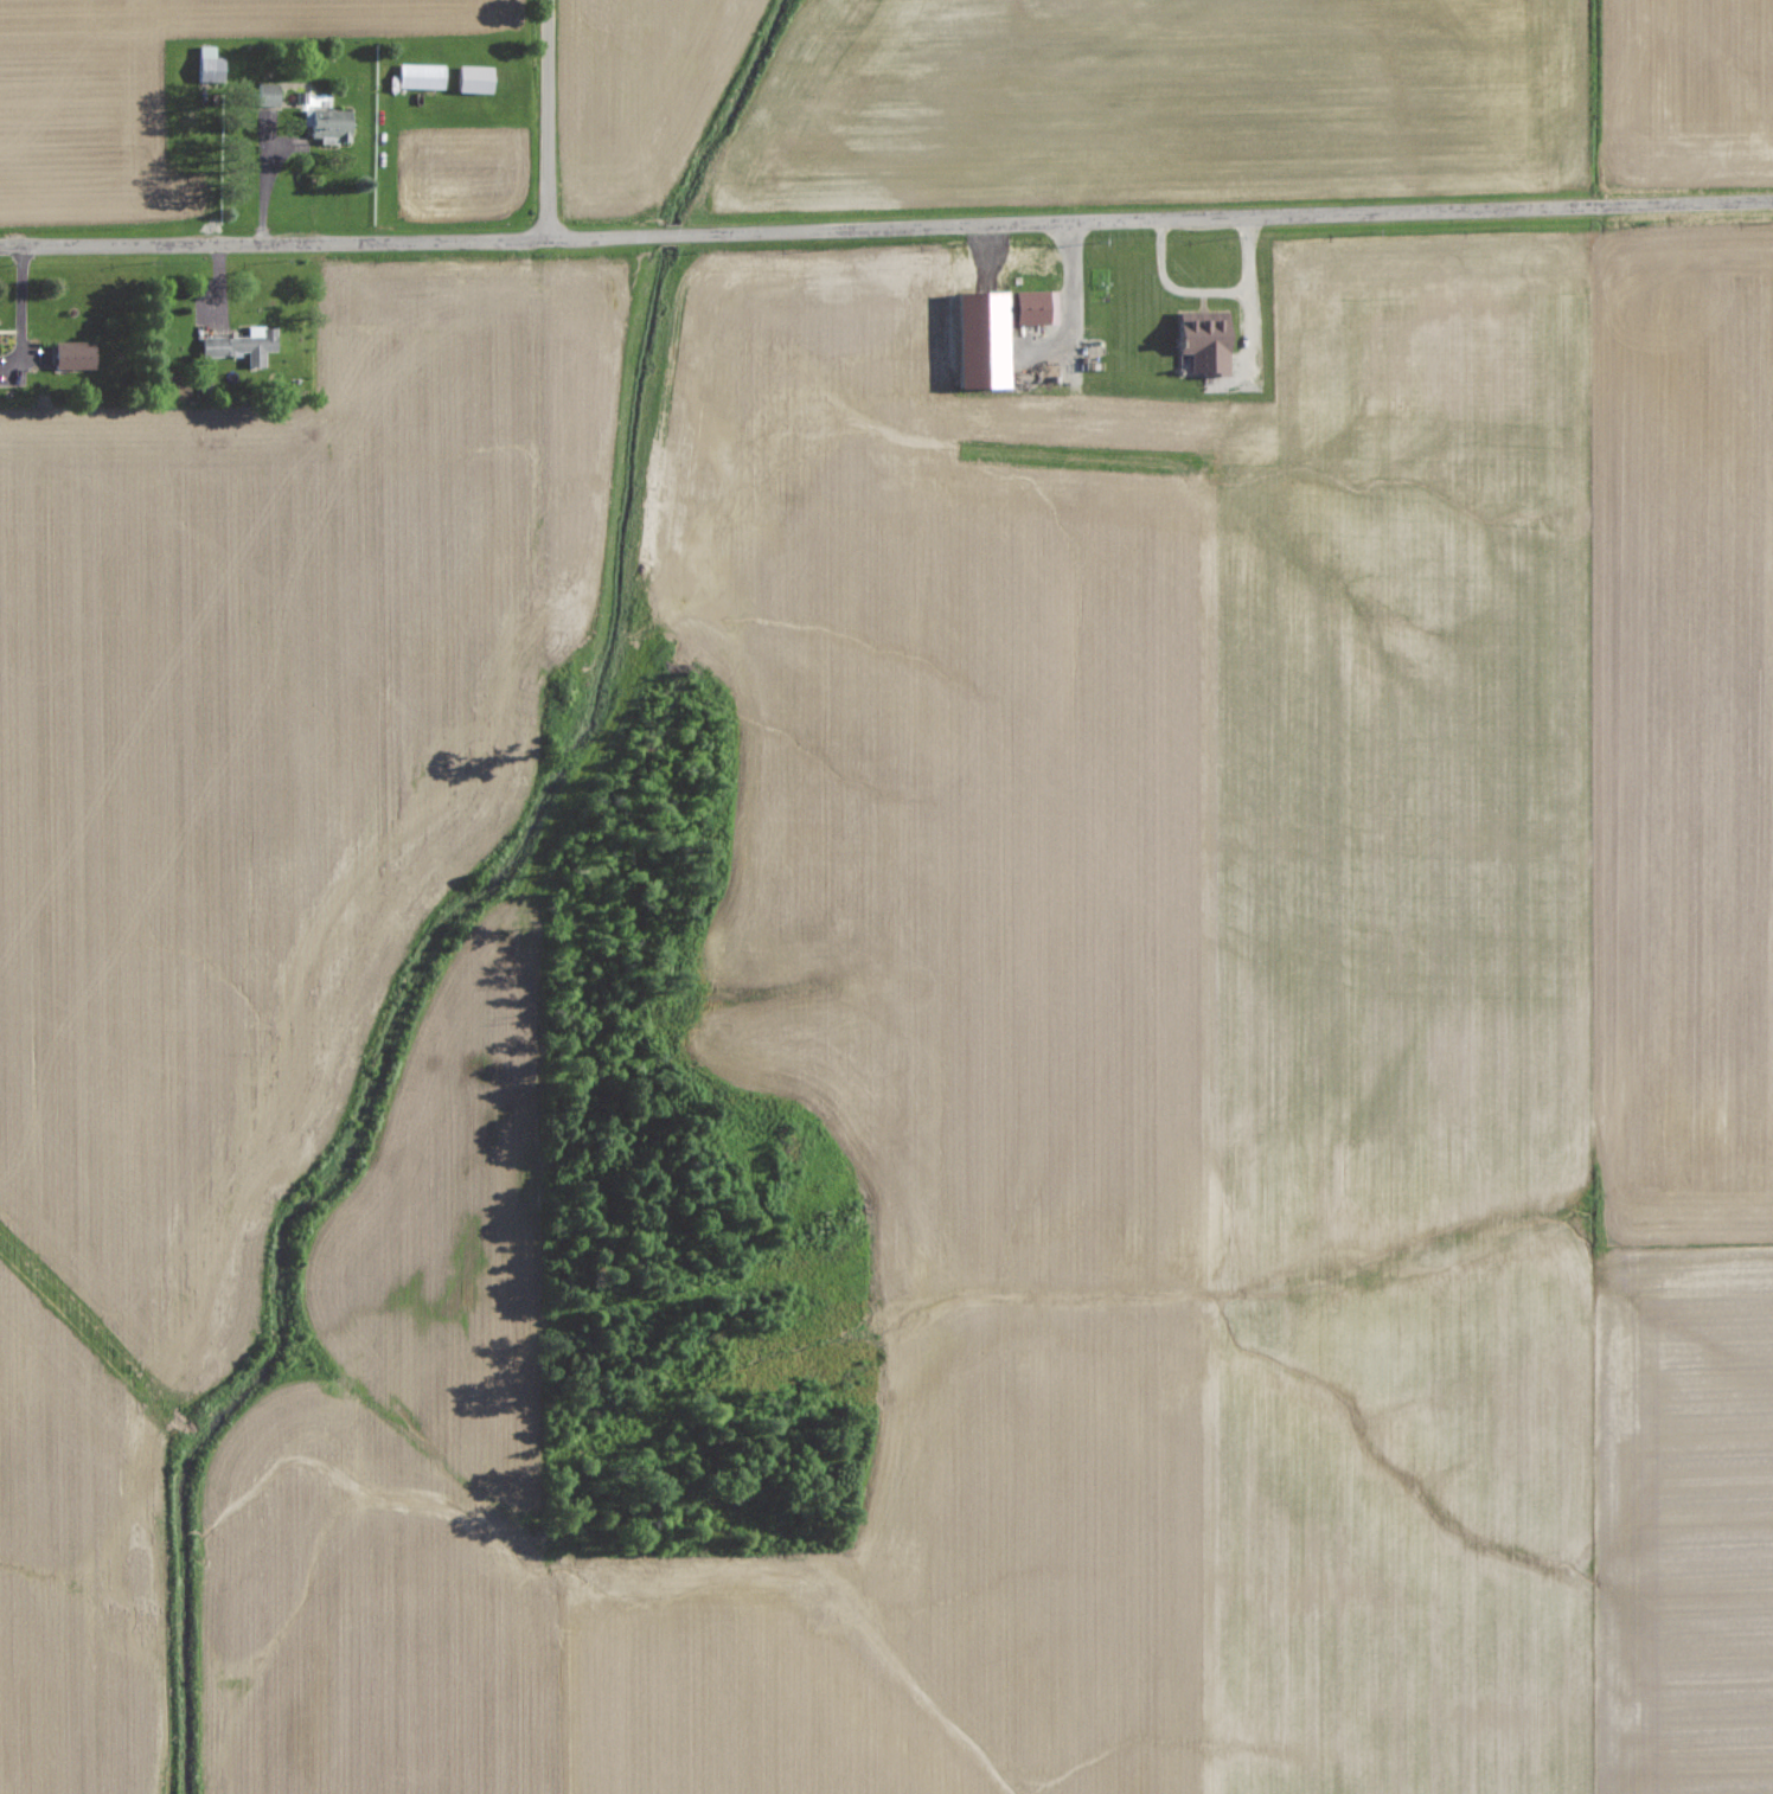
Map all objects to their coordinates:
building: (425, 77)
building: (480, 79)
building: (270, 95)
road: (551, 118)
road: (886, 228)
road: (1208, 293)
building: (1000, 328)
building: (247, 347)
building: (79, 355)

